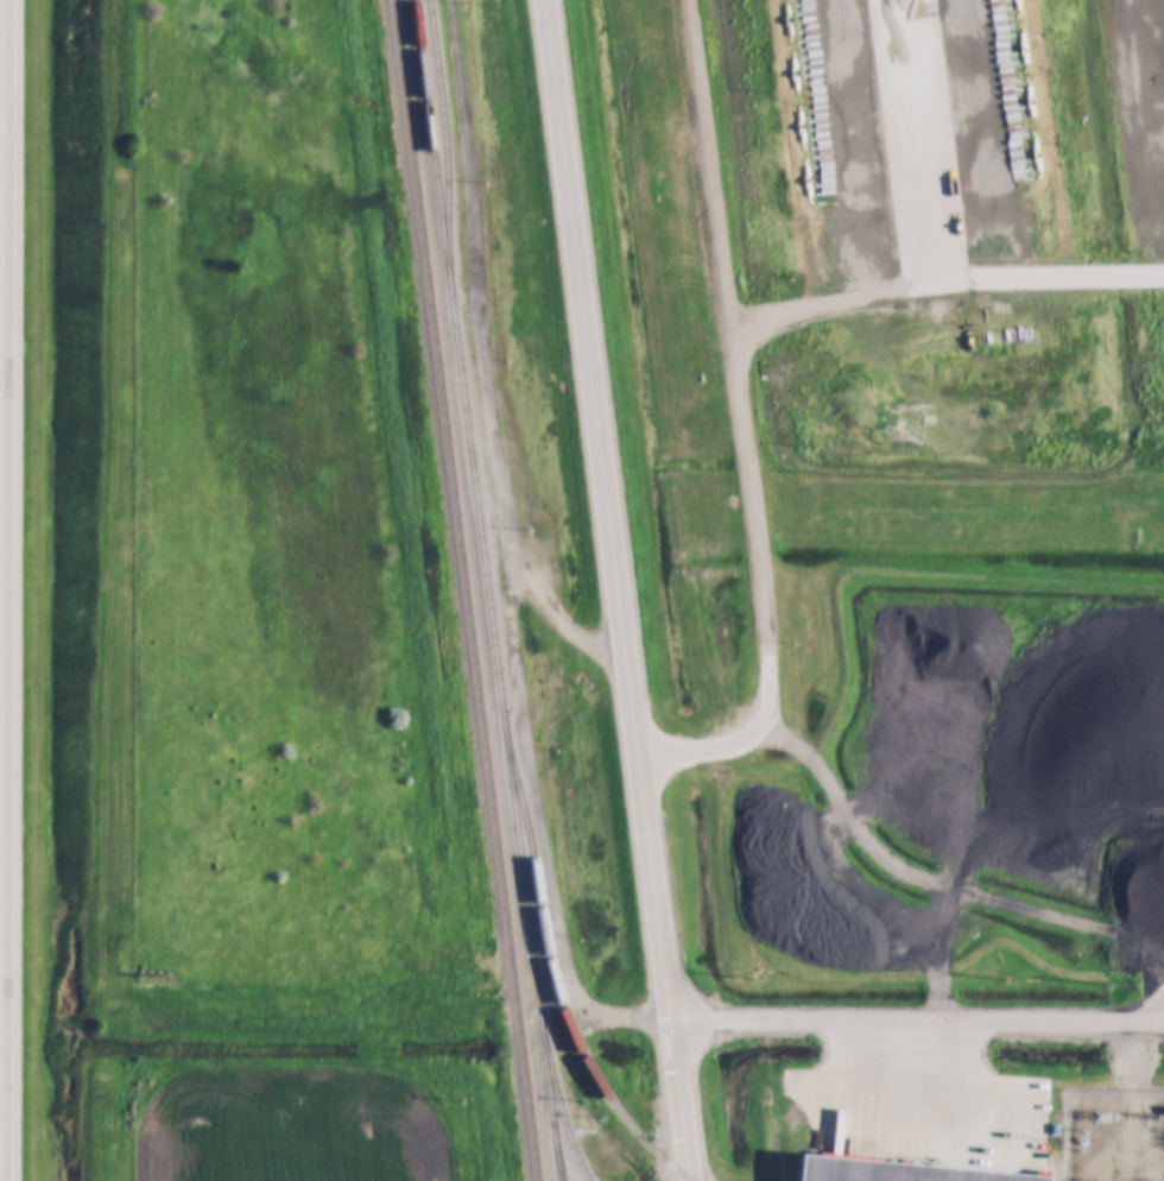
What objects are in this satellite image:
railway: (443, 145)
road: (936, 255)
road: (741, 429)
railway: (462, 589)
railway: (483, 589)
road: (1, 590)
road: (616, 590)
railway: (550, 971)
road: (917, 1018)
railway: (553, 1088)
crop: (315, 1117)
power substation: (1112, 1133)
railway: (553, 1154)
building: (910, 1170)

